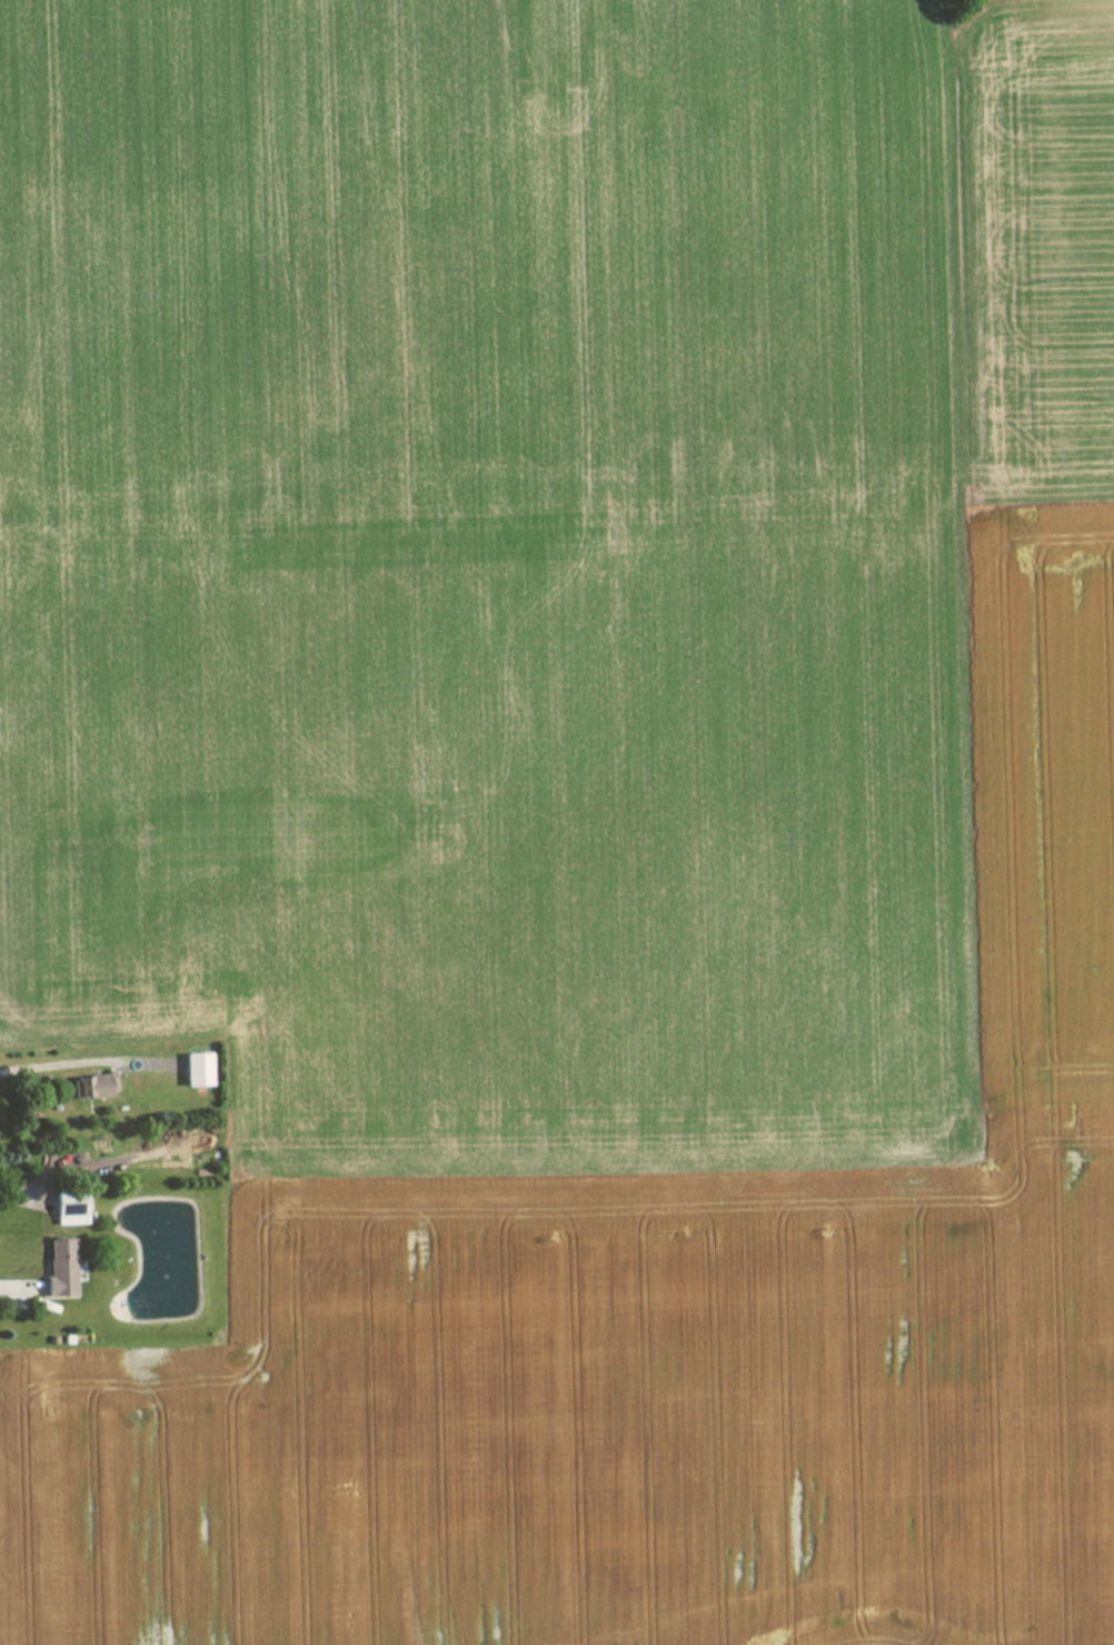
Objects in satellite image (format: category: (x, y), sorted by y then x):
crop: (1022, 4)
crop: (1034, 251)
crop: (1043, 812)
crop: (524, 835)
building: (192, 1069)
building: (87, 1087)
building: (66, 1212)
building: (58, 1267)

